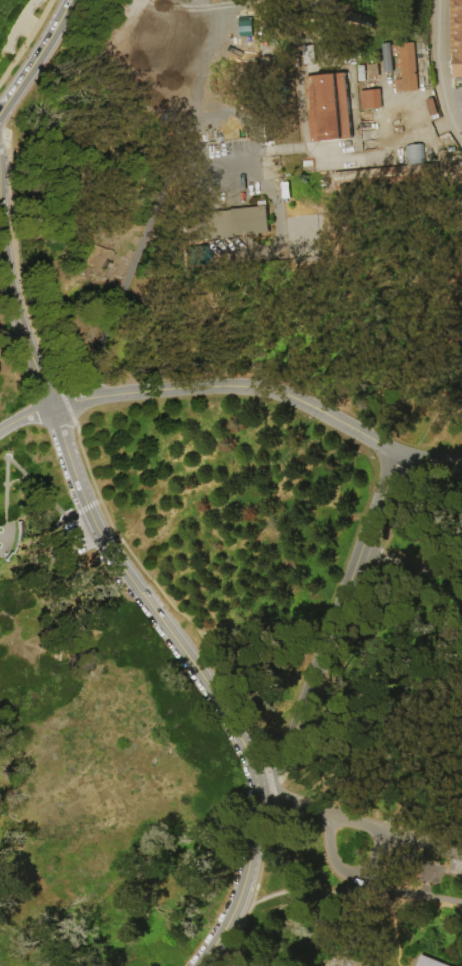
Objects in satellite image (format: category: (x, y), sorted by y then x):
road: (60, 18)
road: (20, 21)
road: (27, 26)
building: (243, 26)
building: (457, 36)
road: (26, 41)
building: (385, 59)
building: (406, 67)
road: (441, 68)
building: (373, 71)
road: (25, 74)
building: (371, 100)
parking lot: (458, 101)
building: (432, 107)
building: (329, 108)
road: (0, 127)
building: (412, 154)
road: (214, 172)
road: (161, 196)
building: (247, 220)
building: (461, 271)
road: (19, 321)
road: (231, 385)
road: (24, 415)
road: (429, 460)
road: (94, 479)
park: (231, 483)
road: (408, 573)
road: (148, 601)
road: (332, 625)
road: (264, 794)
road: (367, 827)
road: (356, 881)
road: (243, 883)
road: (255, 884)
road: (394, 892)
building: (430, 962)

